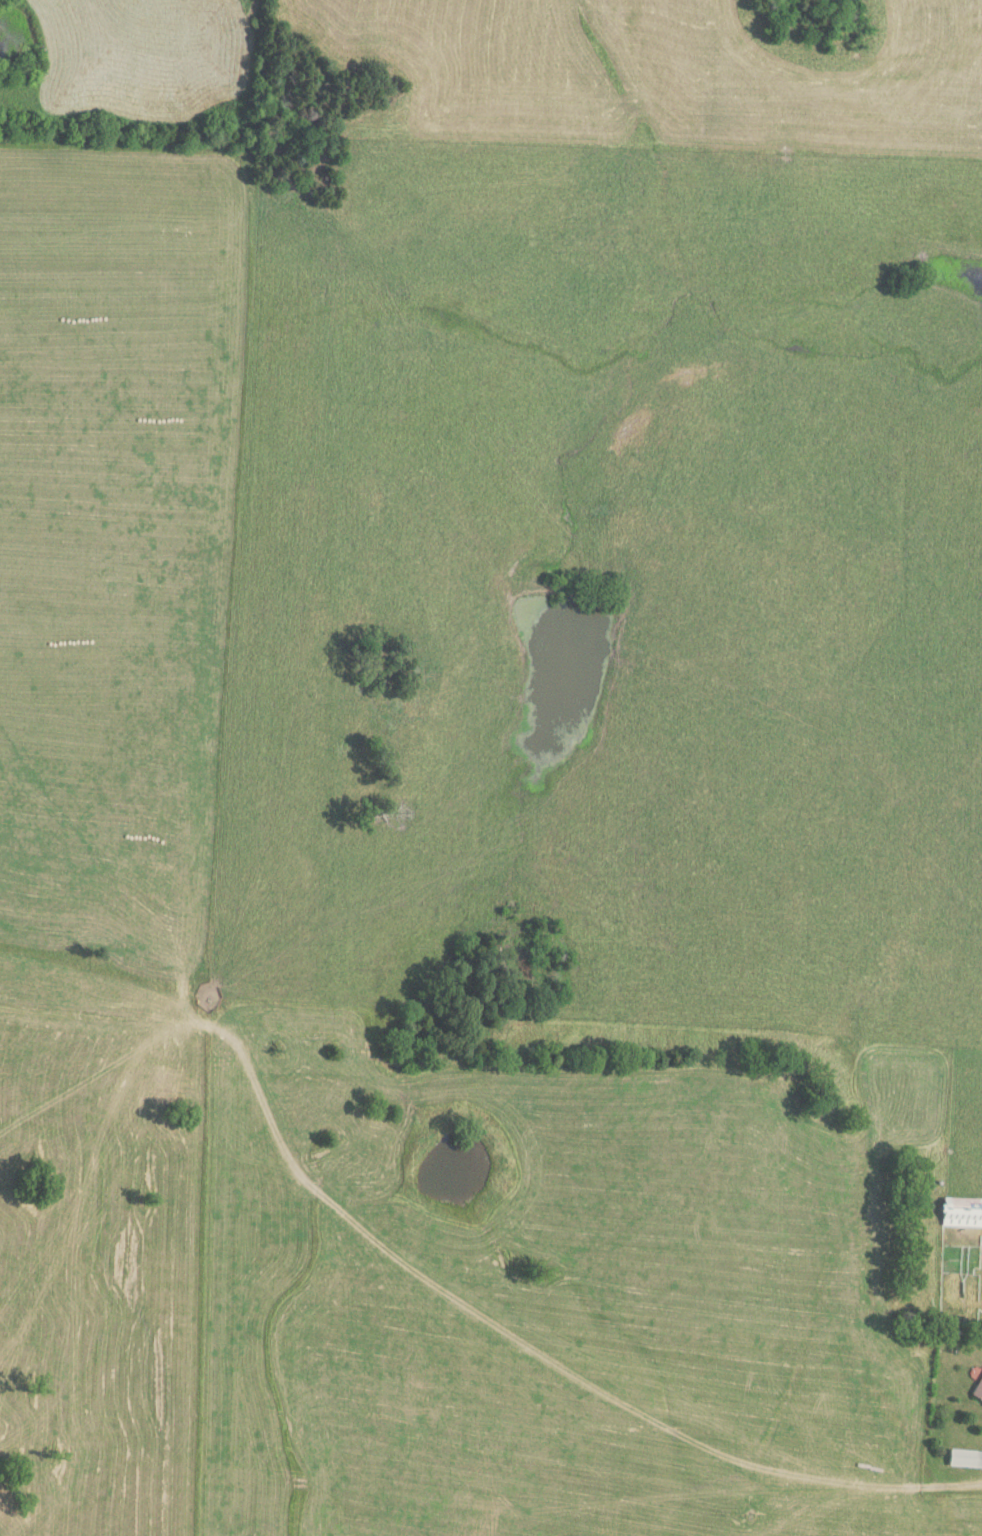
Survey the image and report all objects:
building: (958, 1213)
building: (976, 1389)
building: (963, 1458)

